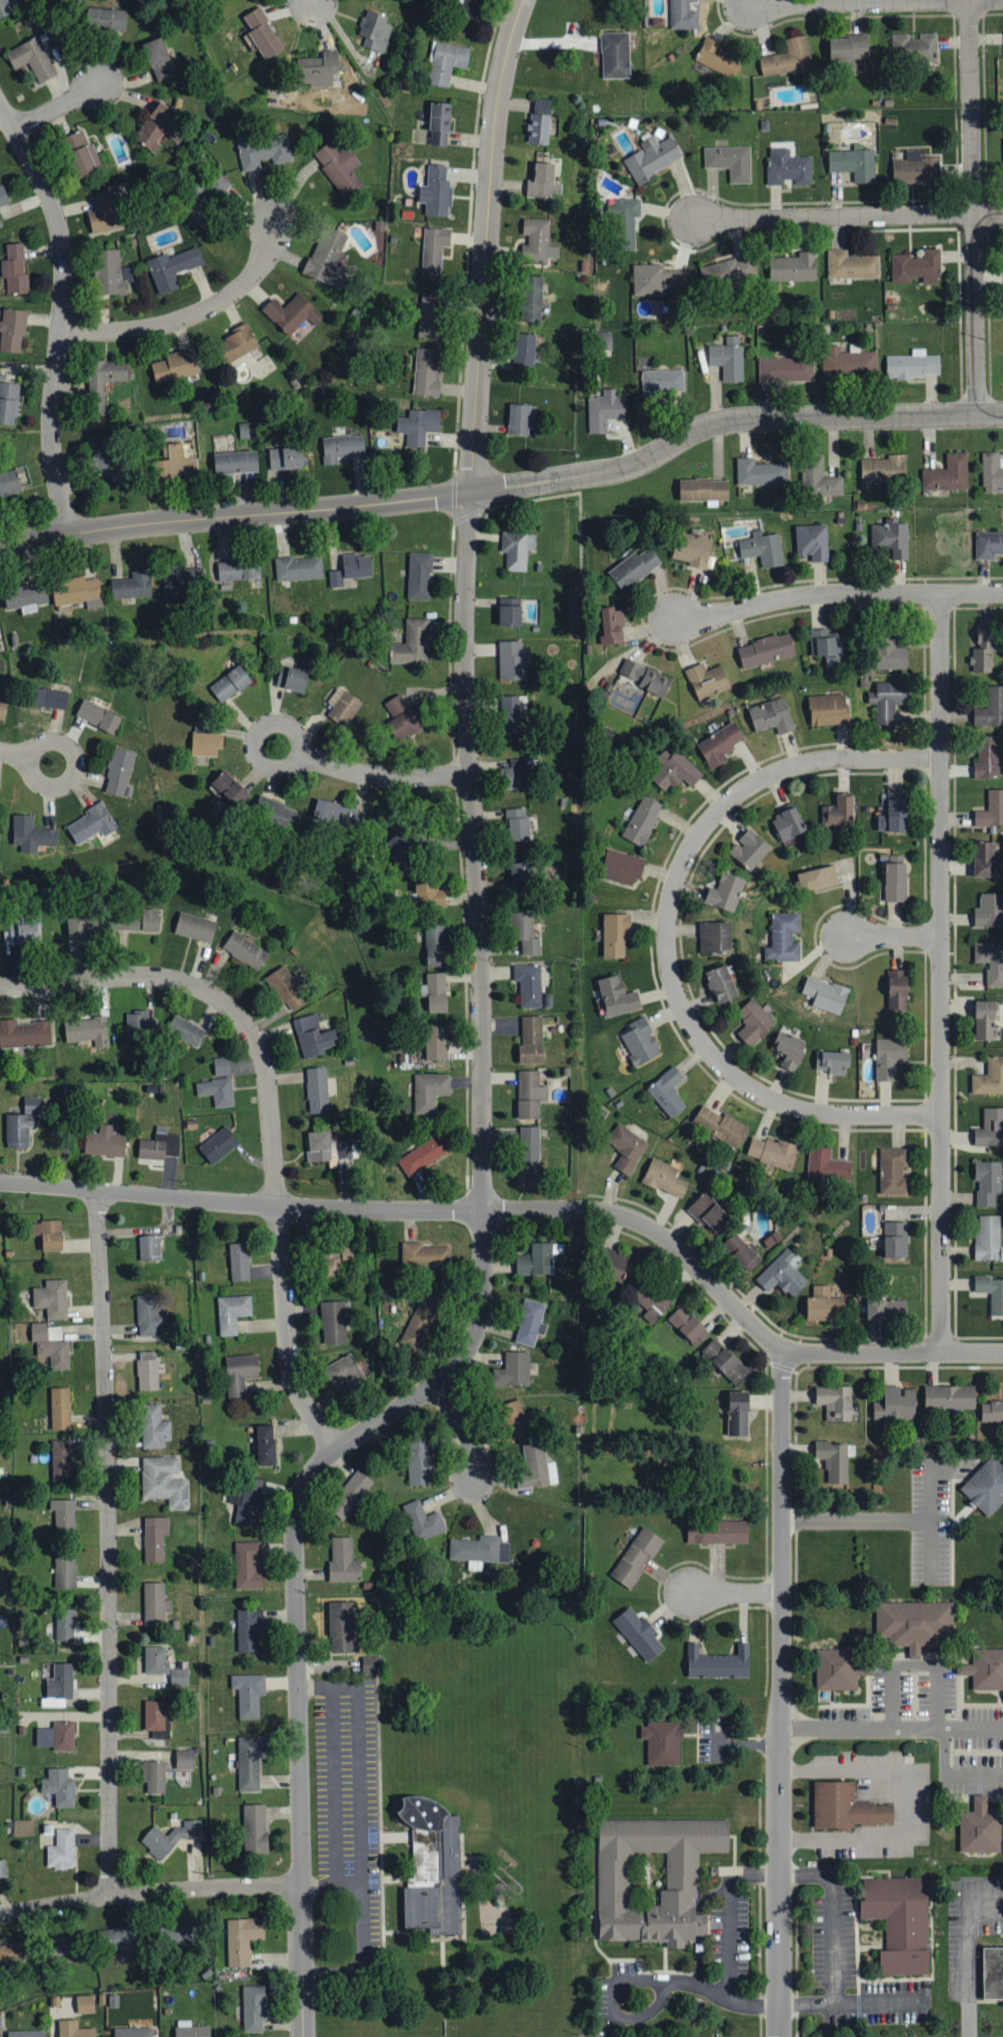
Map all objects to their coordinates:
road: (925, 0)
road: (858, 2)
building: (5, 8)
building: (470, 8)
building: (683, 15)
building: (106, 19)
building: (376, 31)
building: (262, 33)
building: (914, 47)
building: (849, 48)
building: (615, 55)
building: (719, 58)
building: (32, 59)
building: (158, 59)
building: (789, 59)
building: (445, 62)
building: (318, 69)
road: (54, 103)
building: (539, 122)
building: (439, 124)
building: (159, 127)
building: (75, 140)
building: (263, 150)
building: (652, 158)
building: (82, 162)
building: (730, 162)
building: (854, 164)
building: (339, 167)
building: (788, 167)
building: (917, 169)
building: (542, 182)
building: (436, 192)
building: (3, 197)
building: (208, 198)
road: (971, 208)
building: (105, 212)
road: (987, 213)
road: (832, 217)
building: (625, 223)
building: (0, 225)
road: (463, 245)
building: (434, 250)
building: (328, 258)
building: (851, 265)
building: (793, 267)
building: (917, 267)
building: (172, 268)
building: (15, 270)
building: (728, 272)
building: (112, 273)
building: (658, 279)
building: (532, 299)
road: (187, 311)
road: (56, 313)
building: (292, 313)
building: (430, 317)
building: (12, 331)
building: (237, 344)
building: (525, 352)
building: (728, 359)
building: (847, 363)
building: (913, 365)
building: (175, 366)
building: (786, 369)
building: (427, 372)
building: (104, 381)
building: (660, 384)
building: (8, 404)
building: (604, 411)
road: (729, 415)
road: (989, 415)
building: (519, 420)
road: (716, 424)
building: (416, 427)
building: (246, 431)
building: (341, 448)
building: (285, 458)
building: (235, 463)
building: (110, 465)
building: (175, 465)
building: (883, 470)
building: (991, 471)
building: (760, 472)
building: (947, 474)
building: (818, 480)
building: (9, 483)
building: (703, 490)
road: (233, 506)
road: (233, 514)
building: (891, 538)
building: (812, 542)
building: (988, 544)
building: (518, 550)
building: (692, 550)
building: (357, 566)
building: (634, 568)
building: (299, 569)
building: (238, 570)
building: (419, 576)
building: (336, 578)
building: (132, 586)
building: (75, 590)
road: (837, 593)
building: (25, 598)
building: (510, 613)
building: (611, 626)
building: (413, 644)
building: (827, 647)
building: (766, 650)
building: (984, 651)
building: (889, 654)
building: (512, 661)
building: (646, 677)
building: (292, 679)
building: (706, 680)
building: (230, 685)
building: (49, 699)
building: (887, 699)
building: (343, 707)
building: (2, 708)
building: (990, 708)
building: (828, 709)
building: (771, 716)
building: (98, 717)
building: (402, 720)
building: (719, 744)
building: (206, 745)
road: (11, 752)
building: (987, 757)
road: (311, 760)
road: (72, 767)
building: (676, 772)
building: (120, 773)
building: (518, 773)
building: (228, 789)
building: (991, 810)
building: (838, 813)
building: (894, 813)
building: (278, 814)
building: (336, 816)
building: (642, 821)
building: (517, 825)
building: (788, 825)
building: (94, 826)
building: (31, 835)
building: (749, 850)
building: (984, 860)
building: (621, 867)
building: (521, 877)
building: (817, 878)
building: (895, 883)
building: (725, 893)
building: (989, 911)
building: (133, 923)
building: (82, 926)
building: (195, 926)
building: (21, 932)
building: (615, 934)
building: (527, 936)
road: (666, 937)
building: (783, 937)
road: (892, 937)
building: (715, 938)
building: (435, 944)
building: (245, 950)
building: (991, 960)
road: (940, 973)
building: (721, 983)
building: (529, 984)
building: (286, 987)
building: (898, 988)
building: (437, 991)
building: (825, 993)
building: (617, 995)
building: (984, 1019)
building: (753, 1021)
building: (140, 1025)
building: (87, 1030)
building: (185, 1030)
building: (24, 1033)
building: (313, 1035)
building: (531, 1038)
building: (640, 1040)
building: (436, 1041)
building: (788, 1047)
building: (889, 1056)
road: (478, 1057)
building: (831, 1060)
building: (221, 1065)
building: (989, 1076)
building: (317, 1089)
building: (429, 1090)
building: (216, 1091)
building: (667, 1091)
building: (530, 1096)
building: (32, 1104)
road: (269, 1110)
building: (720, 1124)
building: (990, 1126)
building: (18, 1130)
building: (105, 1142)
building: (218, 1144)
building: (159, 1145)
building: (319, 1145)
building: (626, 1146)
building: (346, 1149)
building: (529, 1151)
building: (771, 1151)
building: (424, 1154)
building: (827, 1164)
building: (893, 1170)
building: (664, 1177)
building: (987, 1181)
building: (708, 1210)
road: (418, 1211)
building: (48, 1233)
building: (988, 1237)
building: (895, 1238)
building: (149, 1247)
building: (742, 1250)
building: (350, 1253)
building: (425, 1254)
building: (535, 1259)
building: (238, 1261)
building: (328, 1262)
building: (616, 1264)
building: (782, 1273)
building: (991, 1291)
building: (51, 1298)
building: (651, 1298)
building: (823, 1303)
building: (886, 1308)
building: (231, 1312)
building: (150, 1314)
building: (421, 1321)
building: (333, 1322)
building: (530, 1322)
building: (688, 1324)
building: (51, 1344)
road: (894, 1353)
building: (724, 1360)
building: (513, 1368)
building: (149, 1369)
building: (345, 1371)
building: (239, 1372)
building: (950, 1396)
building: (835, 1401)
building: (895, 1404)
building: (60, 1407)
building: (992, 1410)
building: (738, 1413)
building: (514, 1419)
building: (153, 1426)
road: (462, 1429)
building: (264, 1444)
building: (61, 1459)
building: (835, 1459)
building: (419, 1460)
building: (536, 1467)
building: (164, 1480)
building: (986, 1486)
building: (350, 1493)
building: (248, 1500)
building: (63, 1513)
building: (423, 1520)
road: (856, 1520)
road: (930, 1520)
building: (717, 1531)
building: (154, 1537)
road: (106, 1542)
building: (479, 1548)
building: (636, 1556)
building: (343, 1560)
building: (247, 1564)
building: (64, 1572)
road: (735, 1593)
building: (155, 1604)
building: (914, 1622)
building: (64, 1624)
building: (341, 1626)
building: (248, 1628)
building: (639, 1633)
building: (156, 1660)
building: (718, 1662)
building: (370, 1664)
road: (913, 1664)
building: (984, 1667)
building: (837, 1668)
building: (178, 1676)
building: (58, 1685)
building: (248, 1694)
road: (779, 1694)
building: (157, 1718)
road: (891, 1725)
building: (57, 1735)
building: (662, 1742)
building: (184, 1759)
building: (250, 1762)
road: (947, 1775)
building: (155, 1777)
building: (59, 1787)
parking lot: (349, 1797)
road: (907, 1804)
road: (342, 1805)
building: (843, 1807)
road: (371, 1824)
building: (979, 1827)
building: (254, 1828)
building: (169, 1837)
building: (61, 1849)
building: (432, 1867)
building: (3, 1869)
building: (612, 1870)
road: (358, 1879)
road: (148, 1893)
building: (900, 1921)
building: (178, 1933)
building: (124, 1937)
road: (728, 1937)
building: (241, 1939)
building: (64, 1944)
road: (833, 1945)
building: (12, 1956)
road: (966, 1965)
building: (992, 1971)
road: (617, 1980)
building: (84, 2003)
road: (875, 2003)
building: (253, 2008)
building: (74, 2029)
building: (191, 2029)
building: (132, 2032)
building: (25, 2033)

